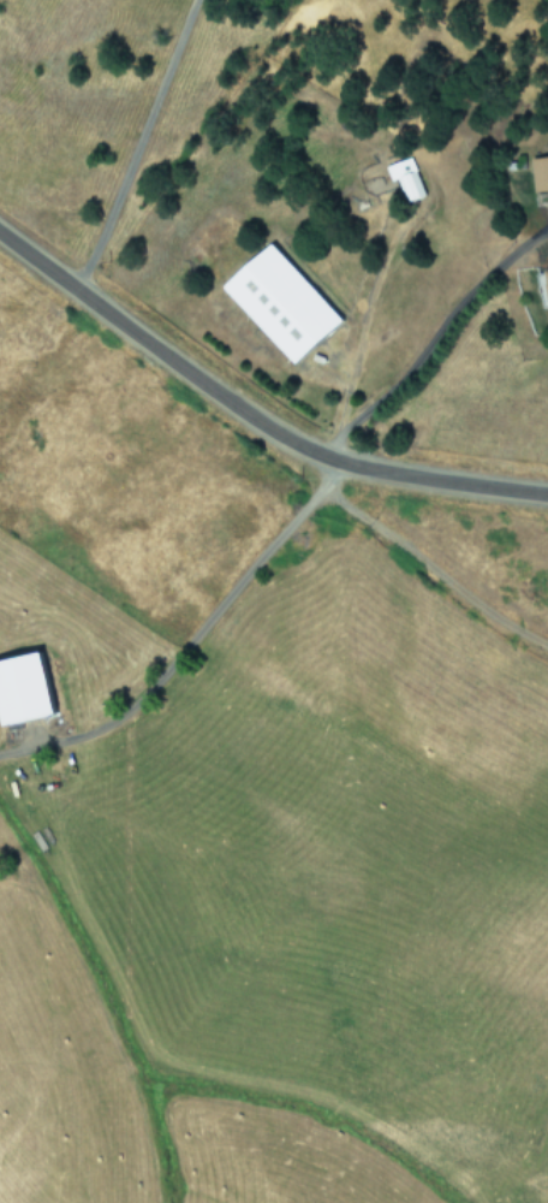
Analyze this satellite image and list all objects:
building: (538, 173)
building: (403, 178)
building: (546, 278)
building: (280, 303)
road: (422, 343)
road: (250, 425)
crop: (276, 641)
road: (180, 646)
building: (22, 688)

